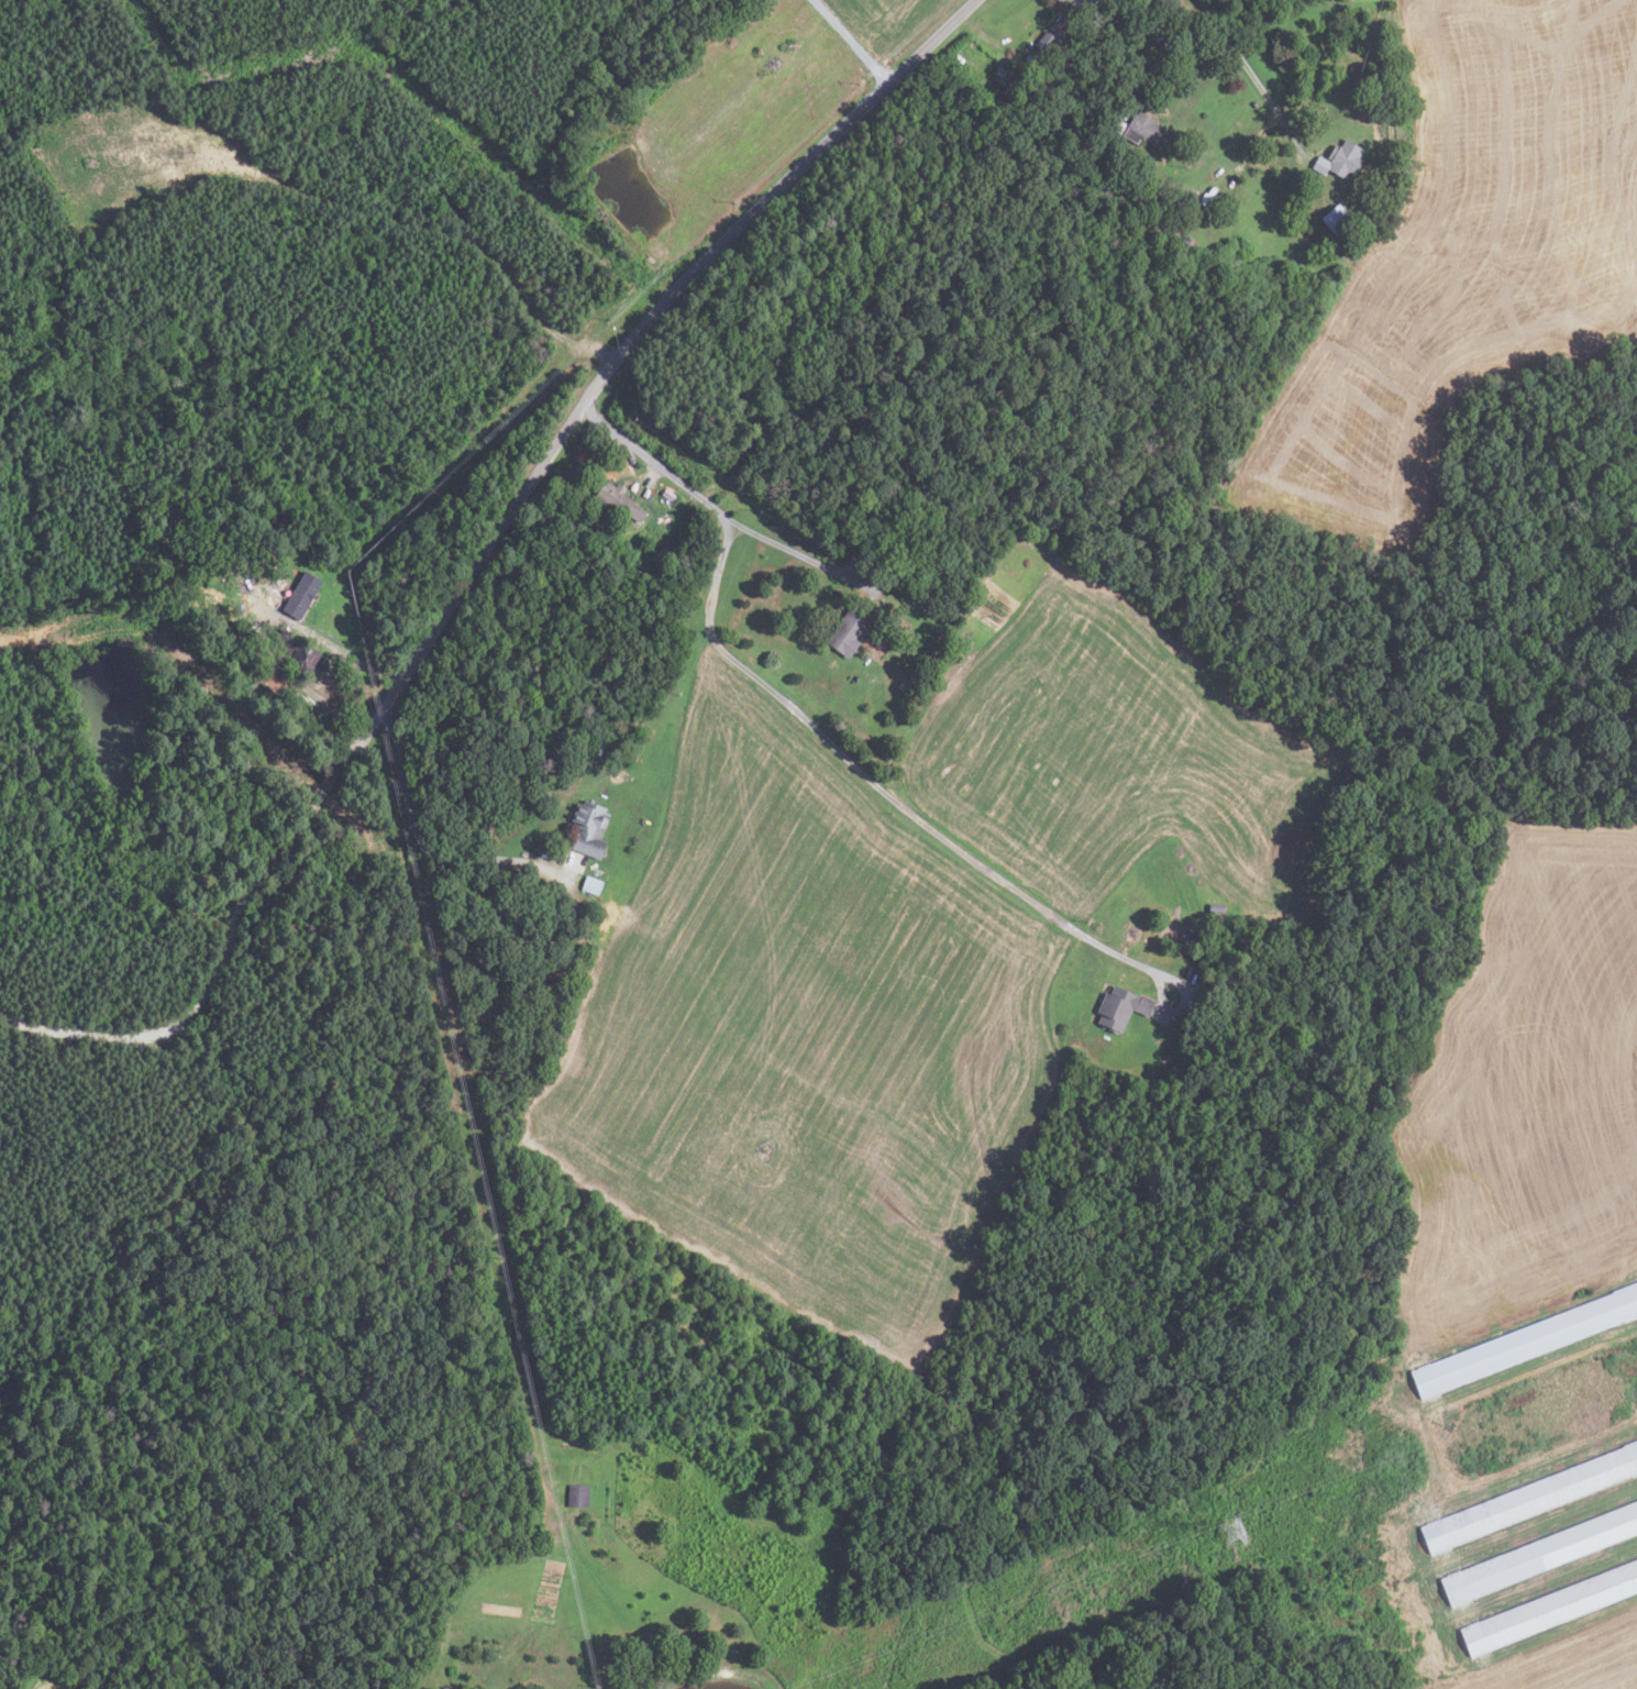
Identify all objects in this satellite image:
crop: (887, 19)
road: (852, 42)
building: (1043, 42)
building: (1027, 58)
road: (1158, 58)
road: (1250, 74)
building: (999, 76)
crop: (743, 99)
building: (1254, 104)
building: (1117, 128)
building: (1143, 132)
building: (1338, 159)
building: (1096, 185)
building: (1192, 198)
building: (1334, 220)
road: (645, 327)
building: (739, 453)
road: (659, 466)
road: (651, 475)
building: (667, 495)
building: (617, 499)
crop: (1635, 507)
building: (241, 553)
building: (903, 566)
road: (838, 571)
building: (299, 596)
building: (845, 629)
building: (254, 632)
building: (294, 648)
road: (354, 649)
building: (270, 683)
building: (903, 684)
road: (228, 694)
building: (596, 747)
crop: (1119, 761)
road: (886, 794)
building: (586, 828)
road: (414, 835)
building: (589, 884)
building: (1214, 907)
building: (1184, 937)
building: (1118, 1007)
crop: (808, 1040)
crop: (1525, 1084)
building: (1525, 1342)
building: (576, 1495)
building: (1530, 1498)
power tower: (1231, 1532)
building: (1539, 1553)
building: (1550, 1608)
crop: (1566, 1659)
building: (446, 1687)

